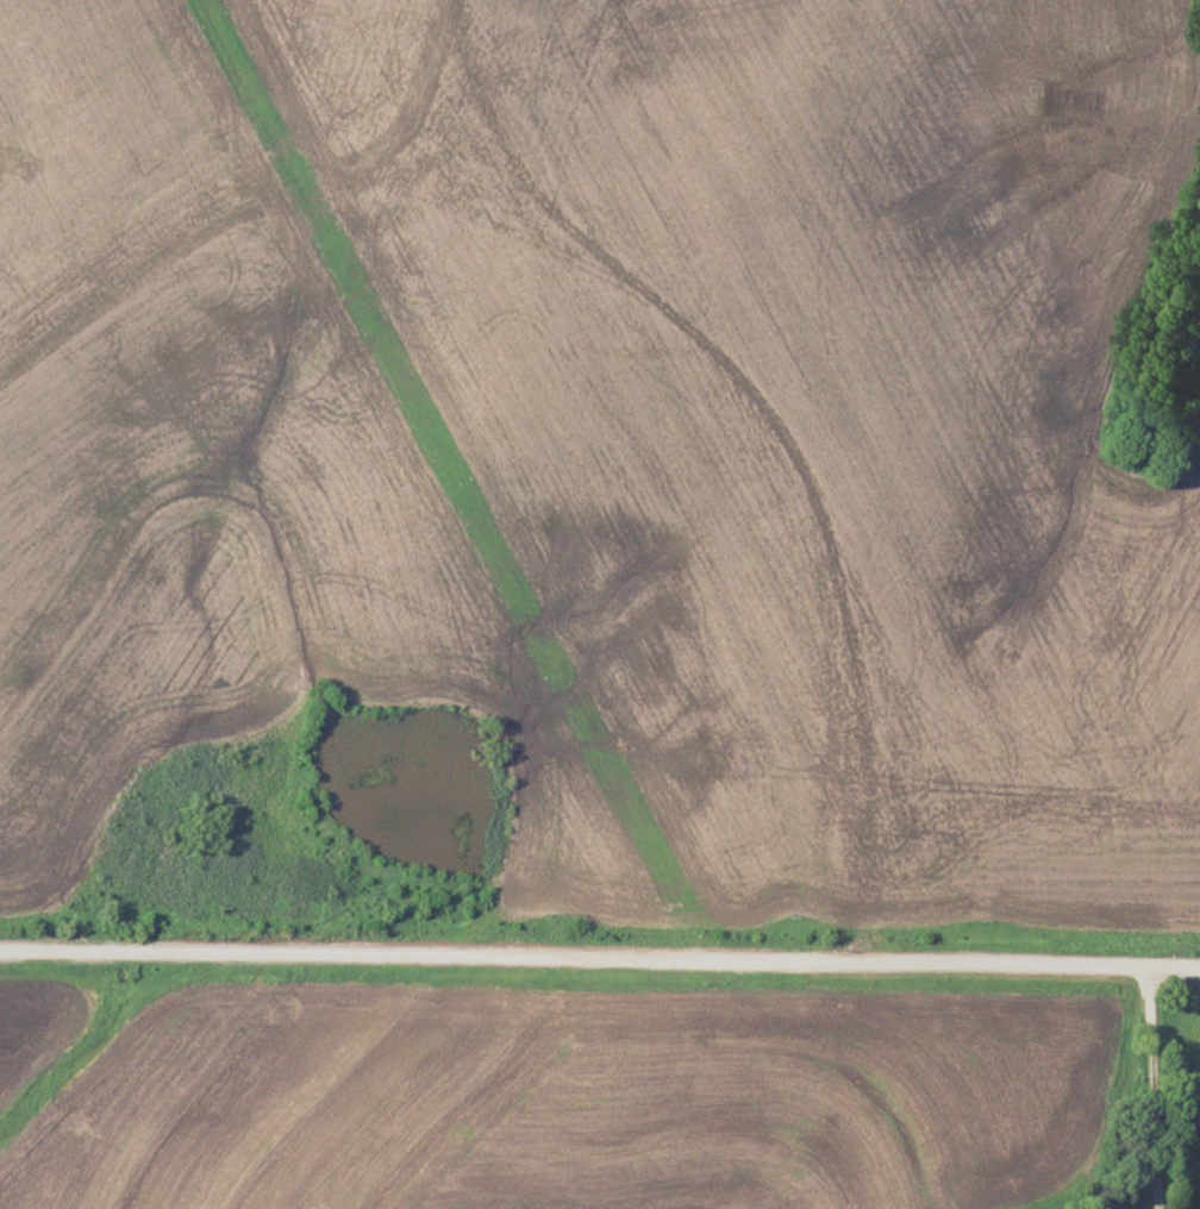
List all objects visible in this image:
road: (600, 950)
road: (1163, 1086)

